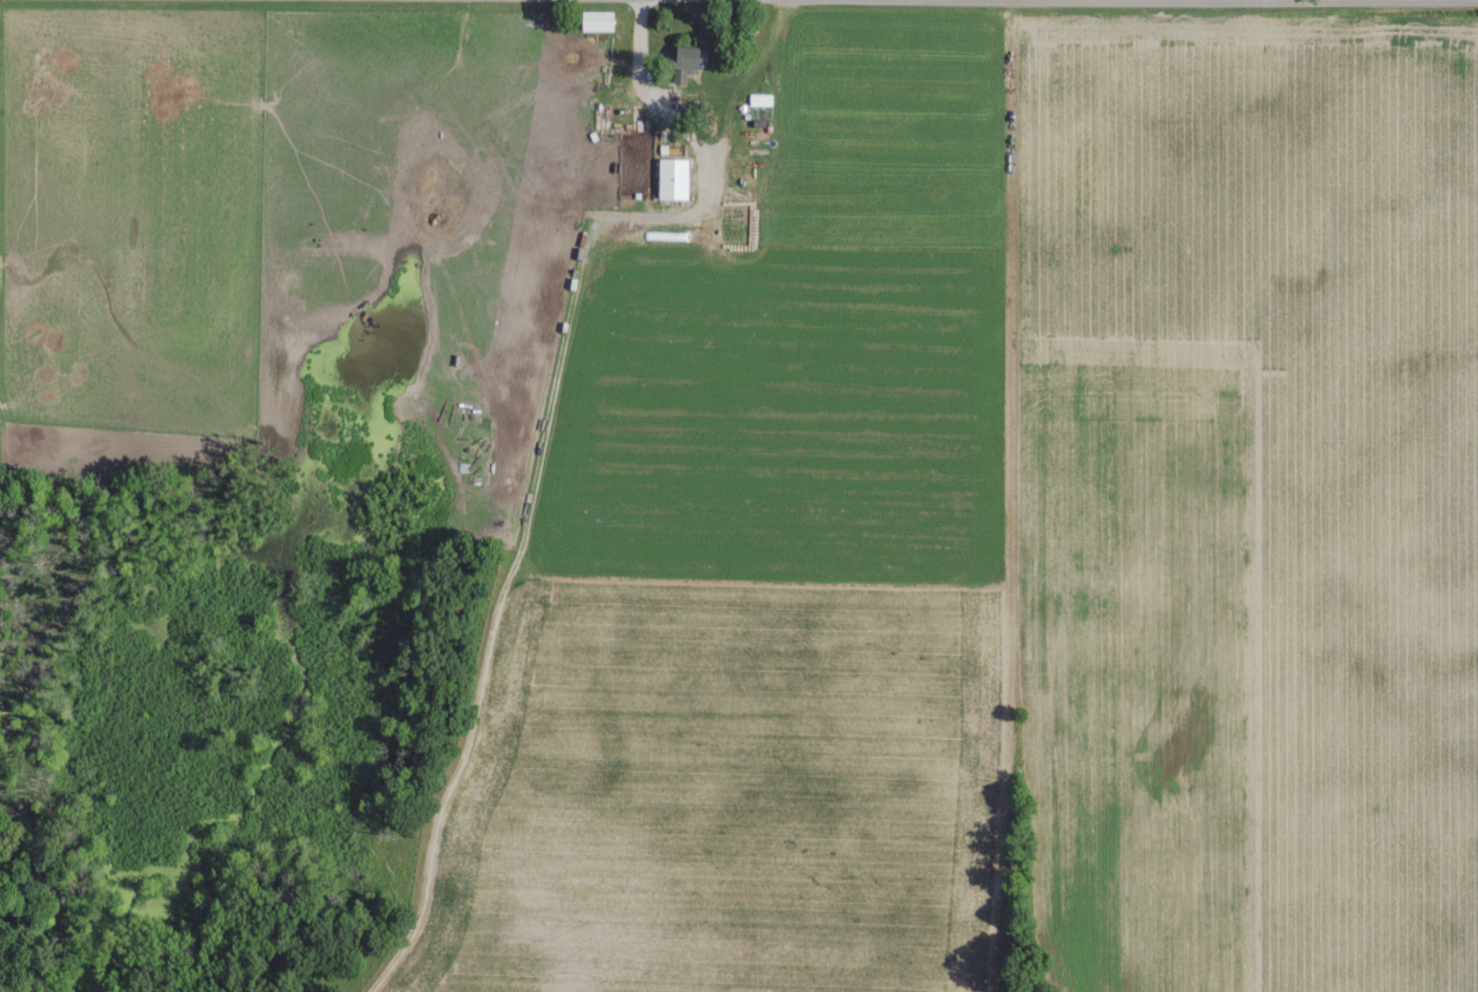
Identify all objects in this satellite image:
building: (595, 21)
building: (682, 61)
building: (759, 99)
building: (615, 116)

